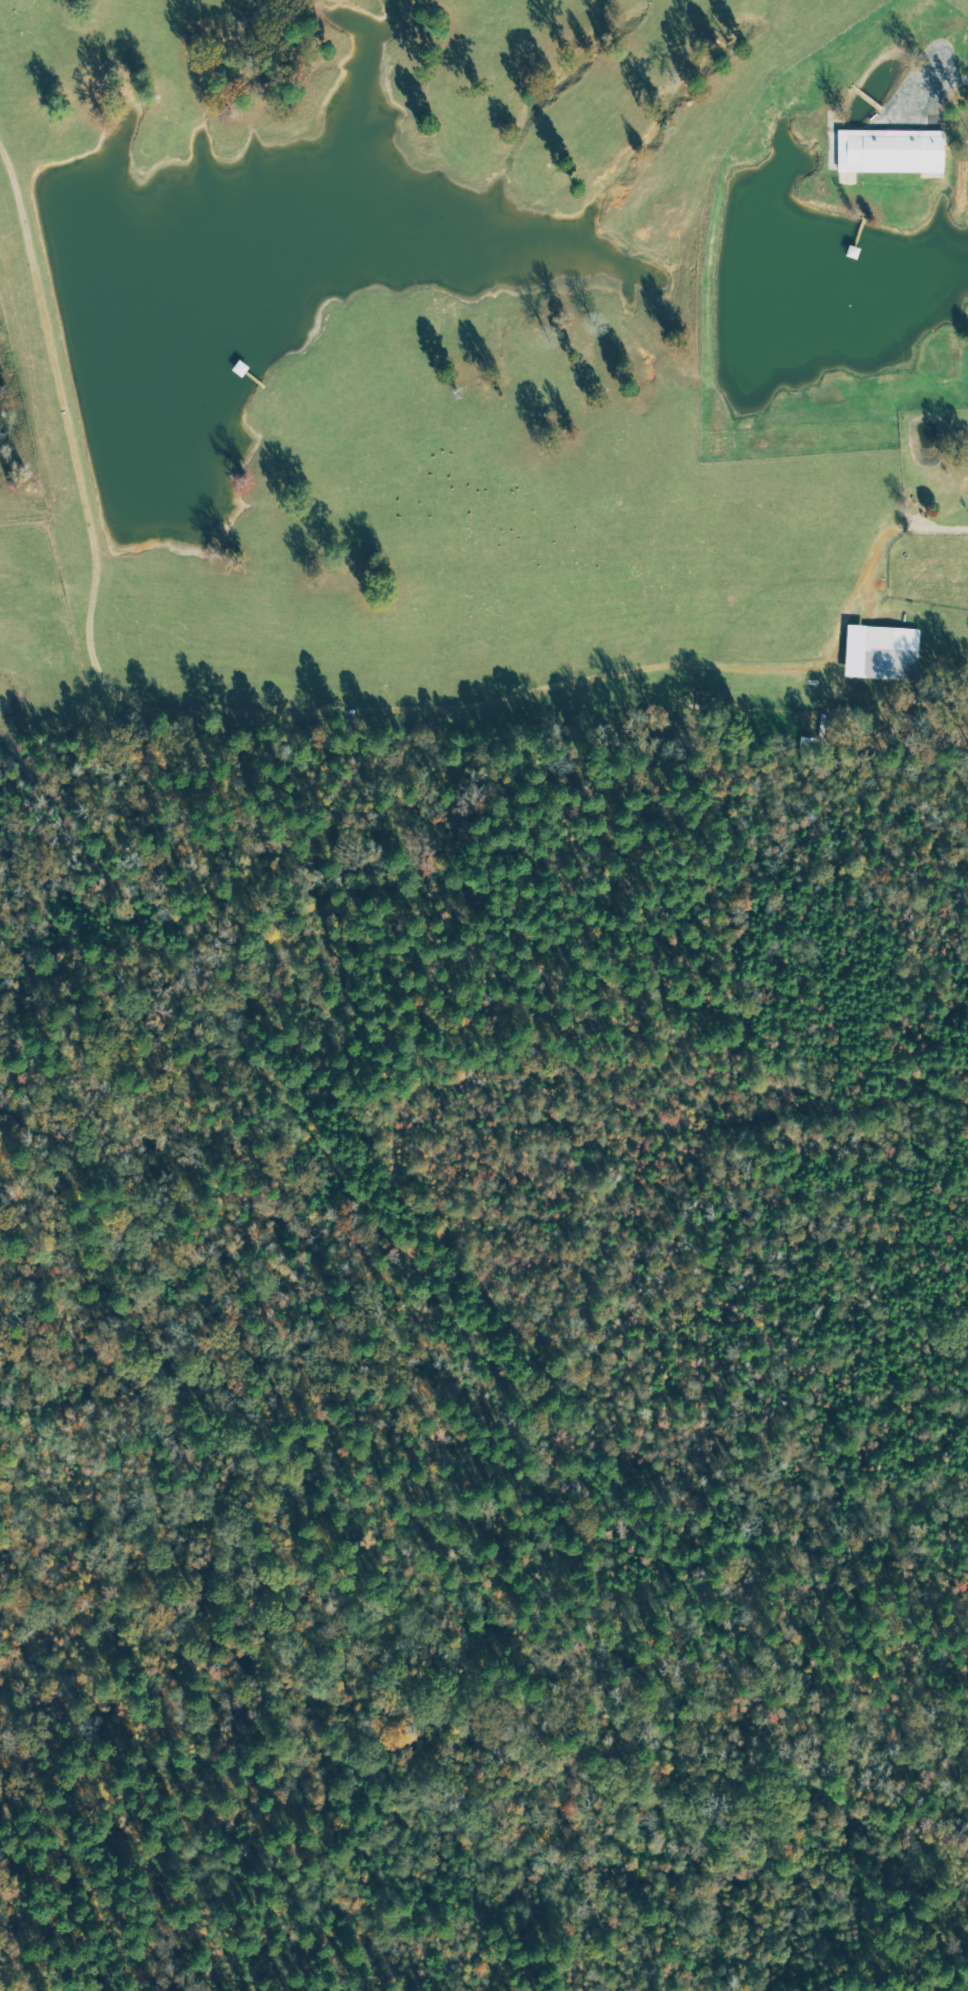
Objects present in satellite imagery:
road: (952, 79)
building: (890, 150)
building: (888, 662)
road: (309, 709)

